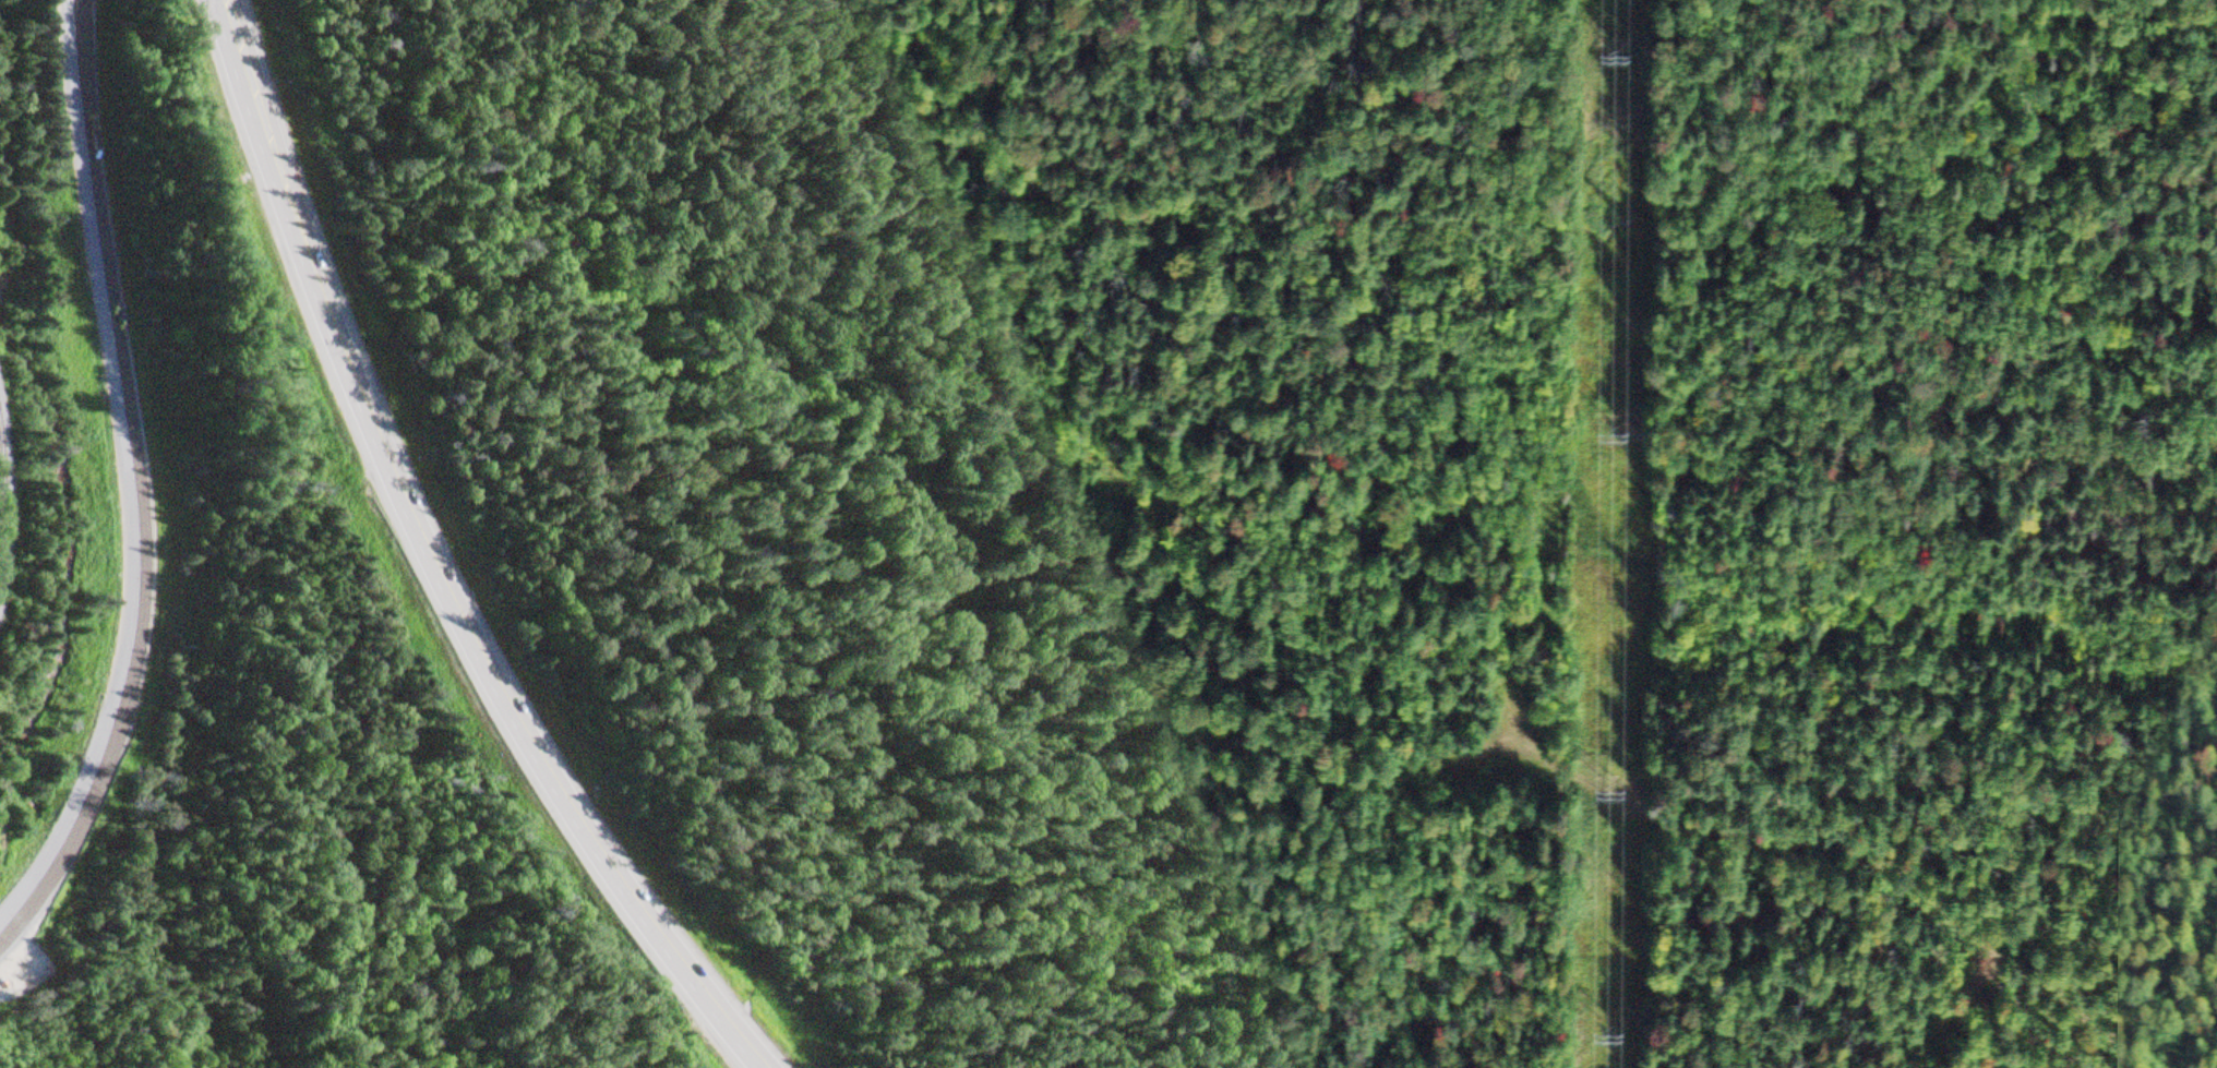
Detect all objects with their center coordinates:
power tower: (1617, 44)
road: (238, 55)
river: (29, 367)
power tower: (1615, 418)
road: (133, 482)
railway: (5, 506)
road: (458, 614)
river: (11, 742)
power tower: (1613, 780)
park: (313, 805)
parking lot: (16, 960)
power tower: (1614, 1021)
road: (26, 1054)

